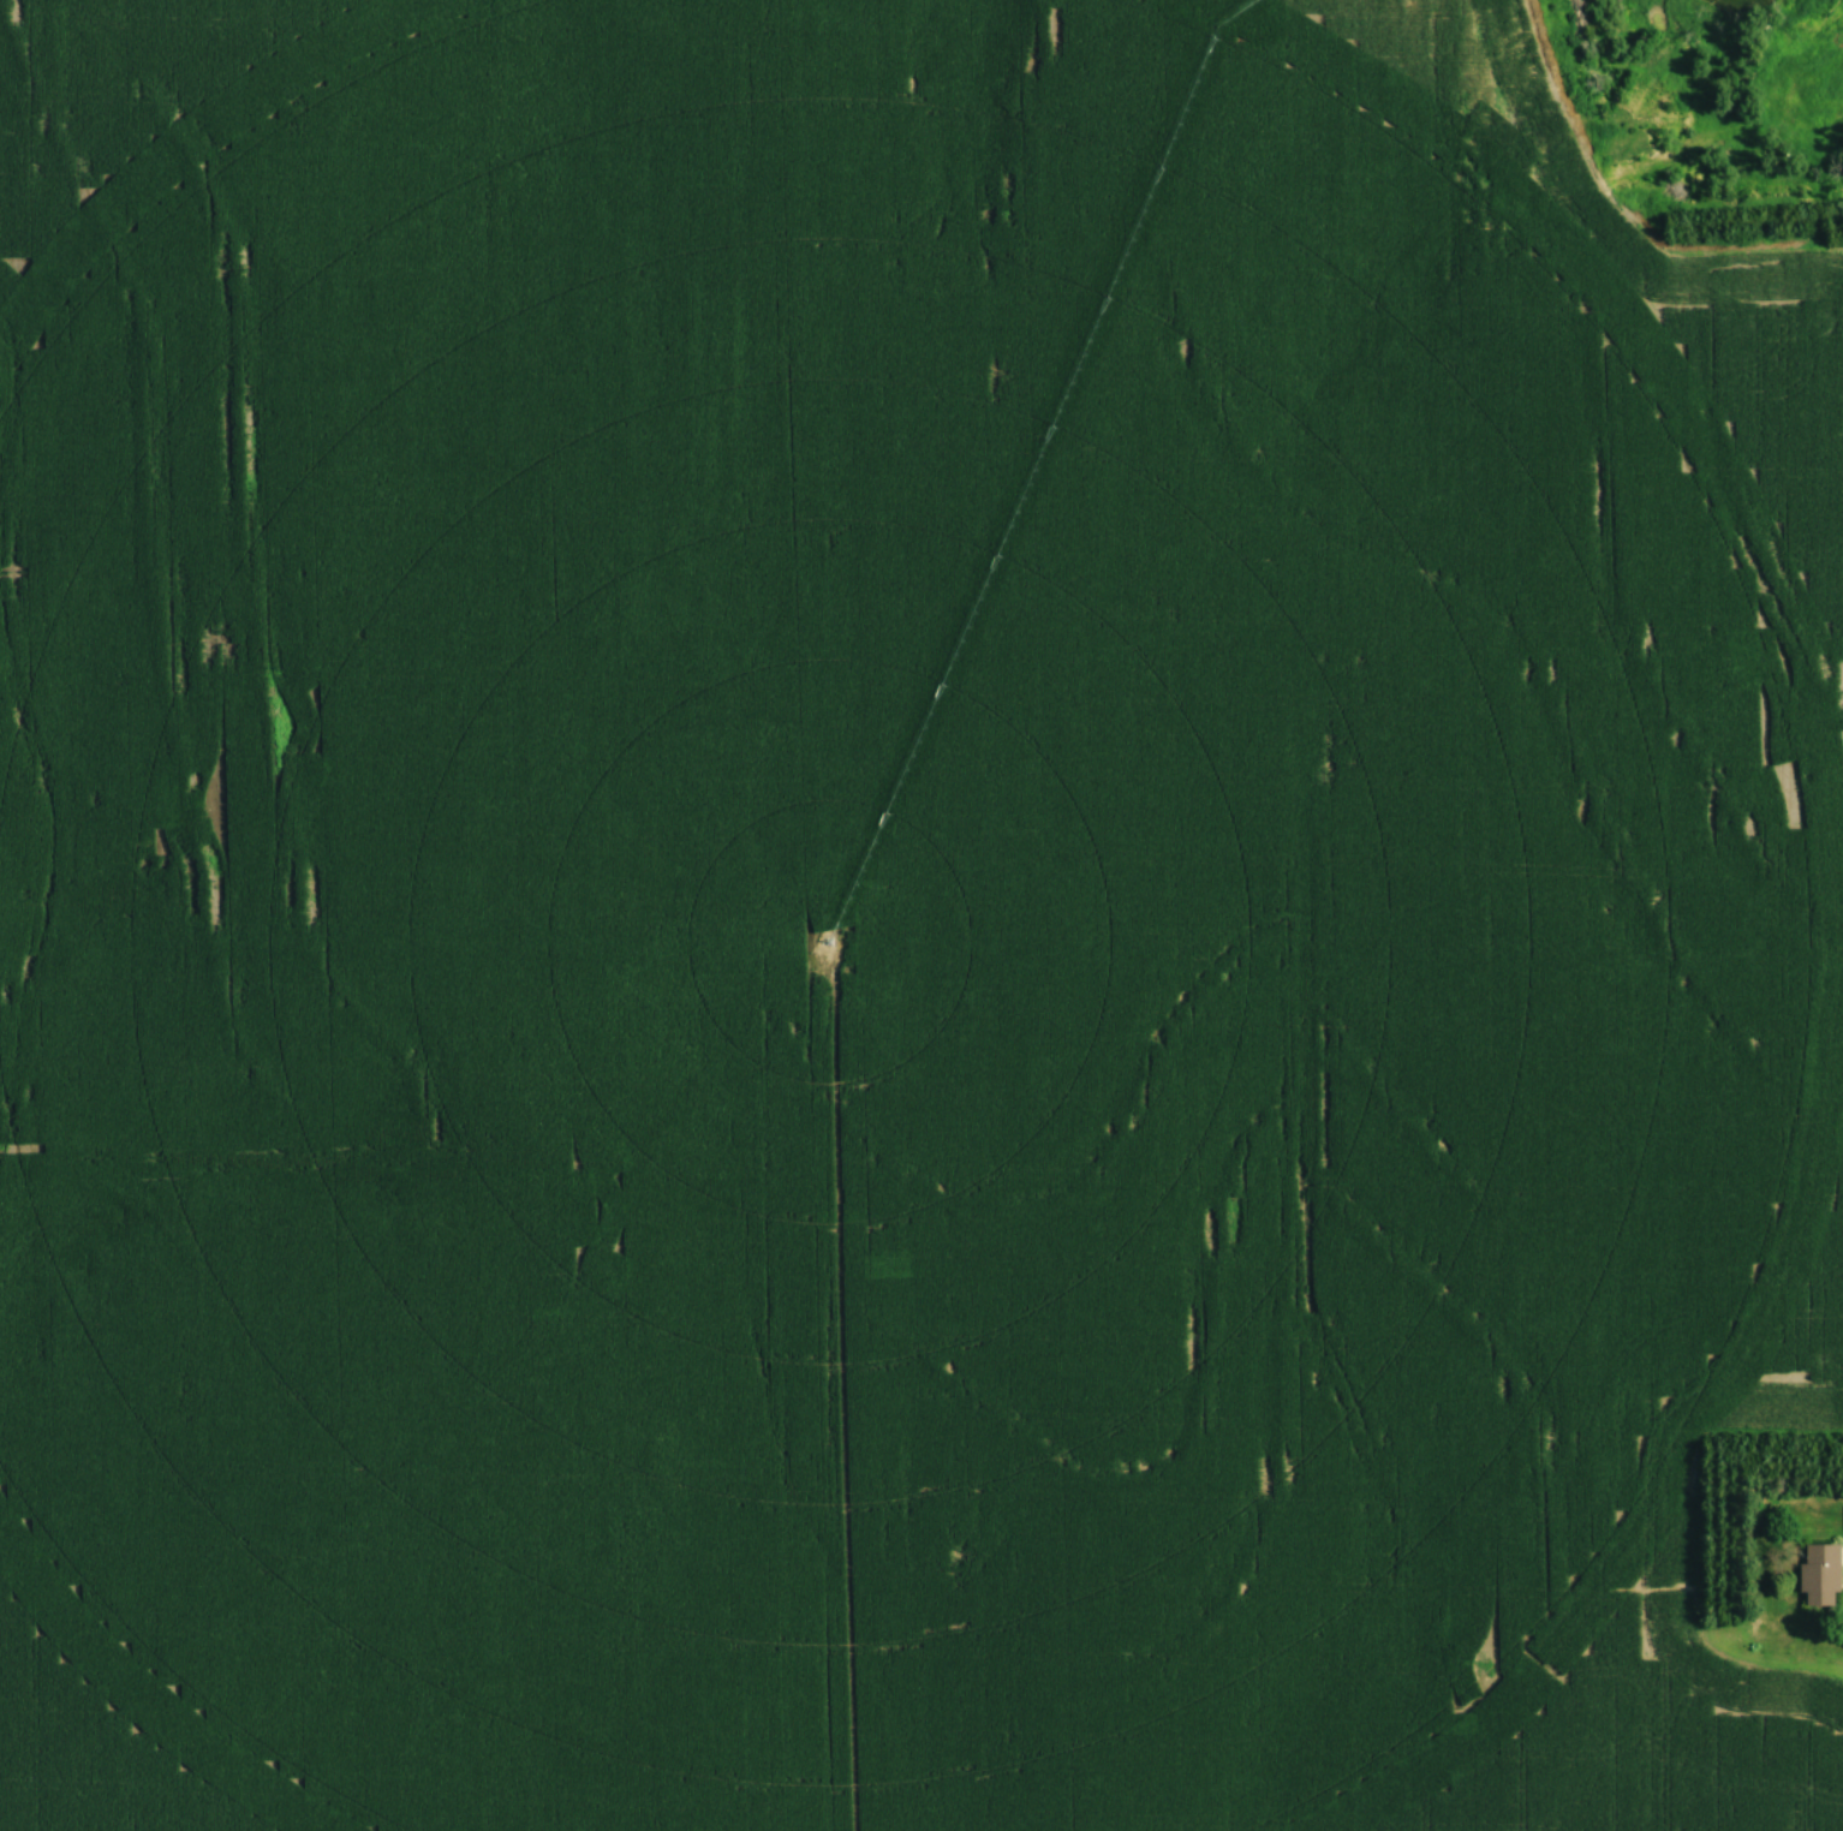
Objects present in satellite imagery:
building: (1818, 1574)

